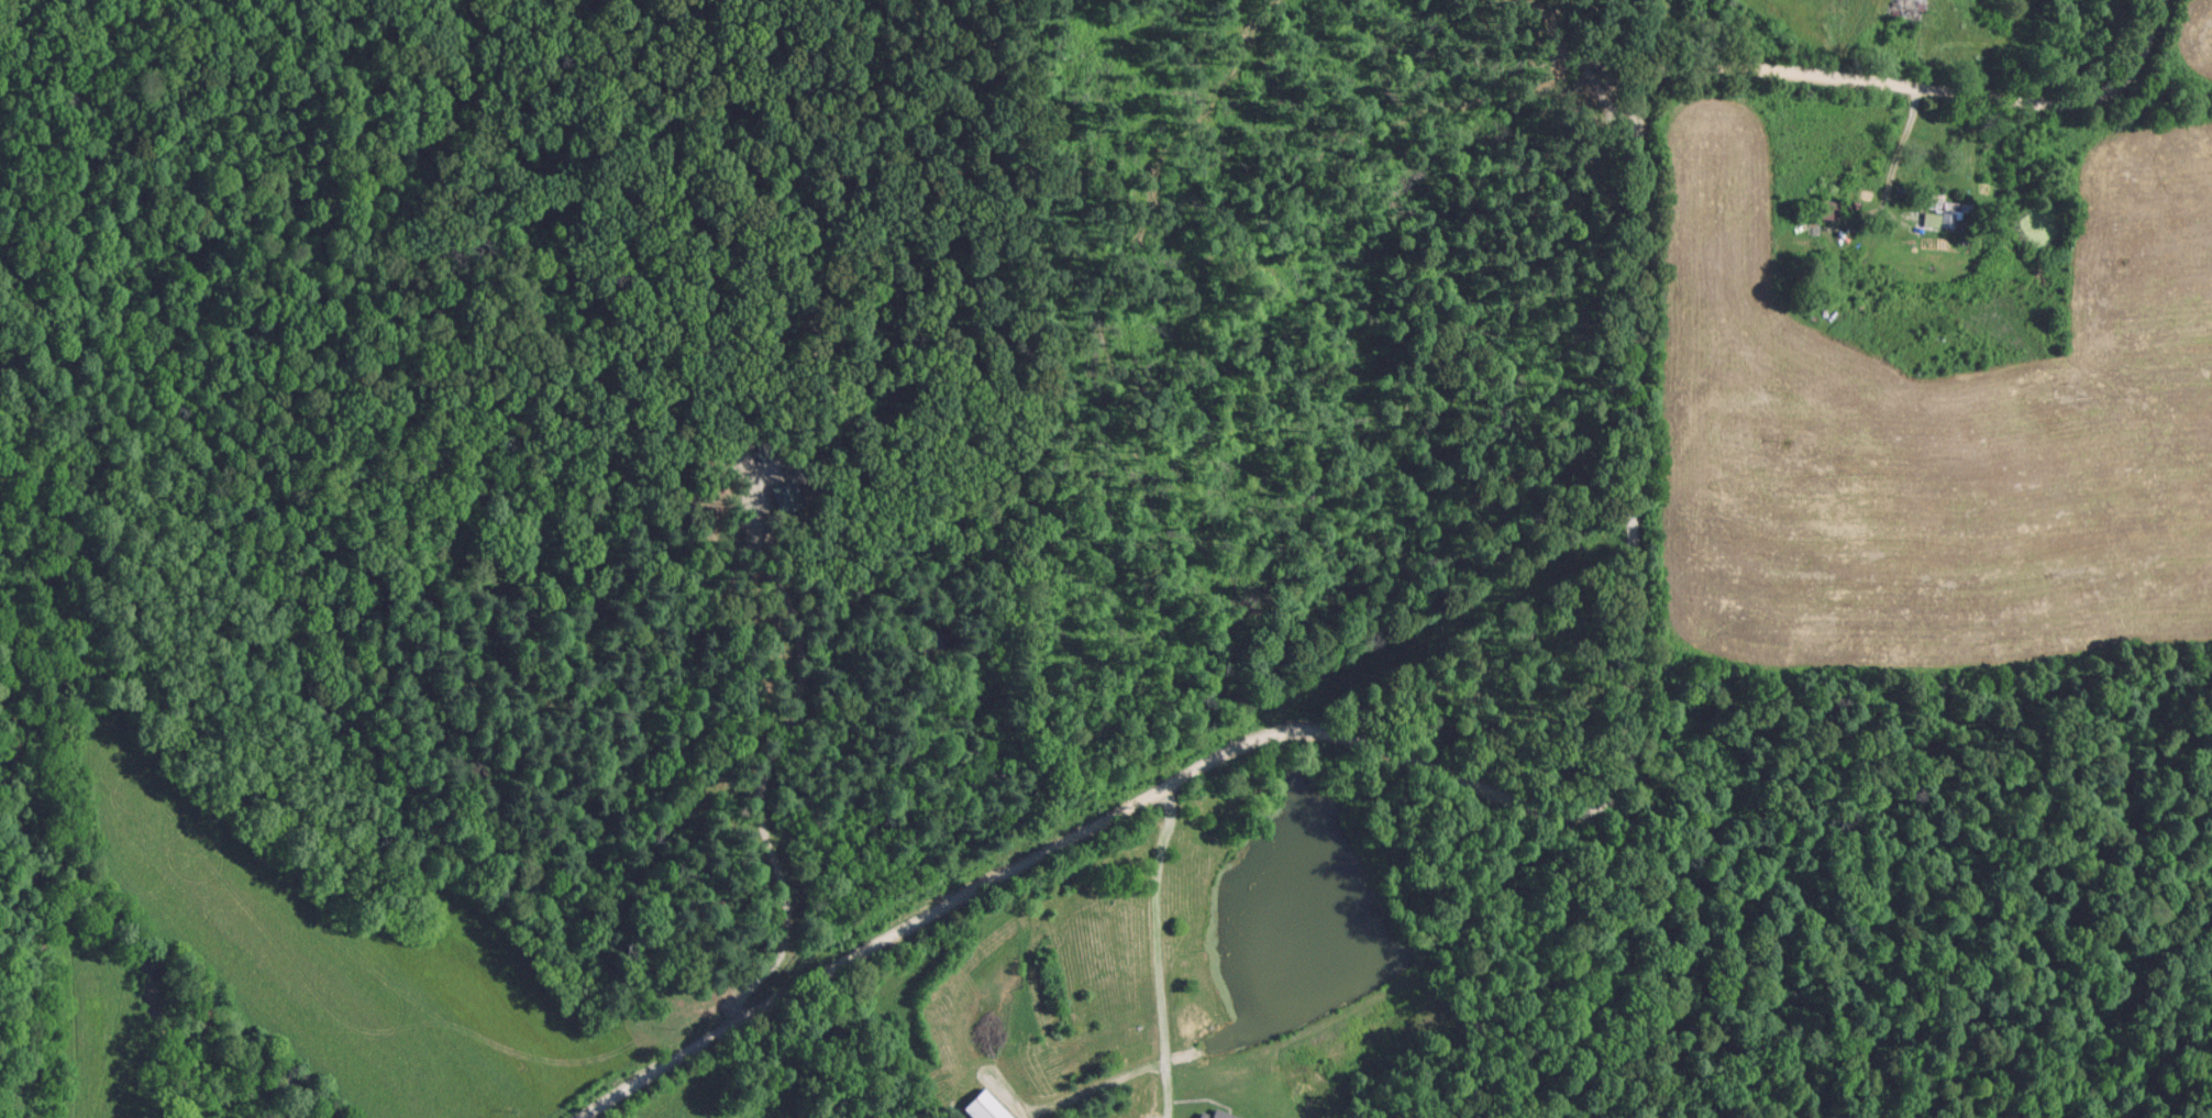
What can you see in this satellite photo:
building: (1900, 8)
road: (1896, 159)
building: (1821, 209)
building: (1935, 218)
road: (1626, 723)
road: (1157, 950)
building: (982, 1106)
building: (1213, 1114)

